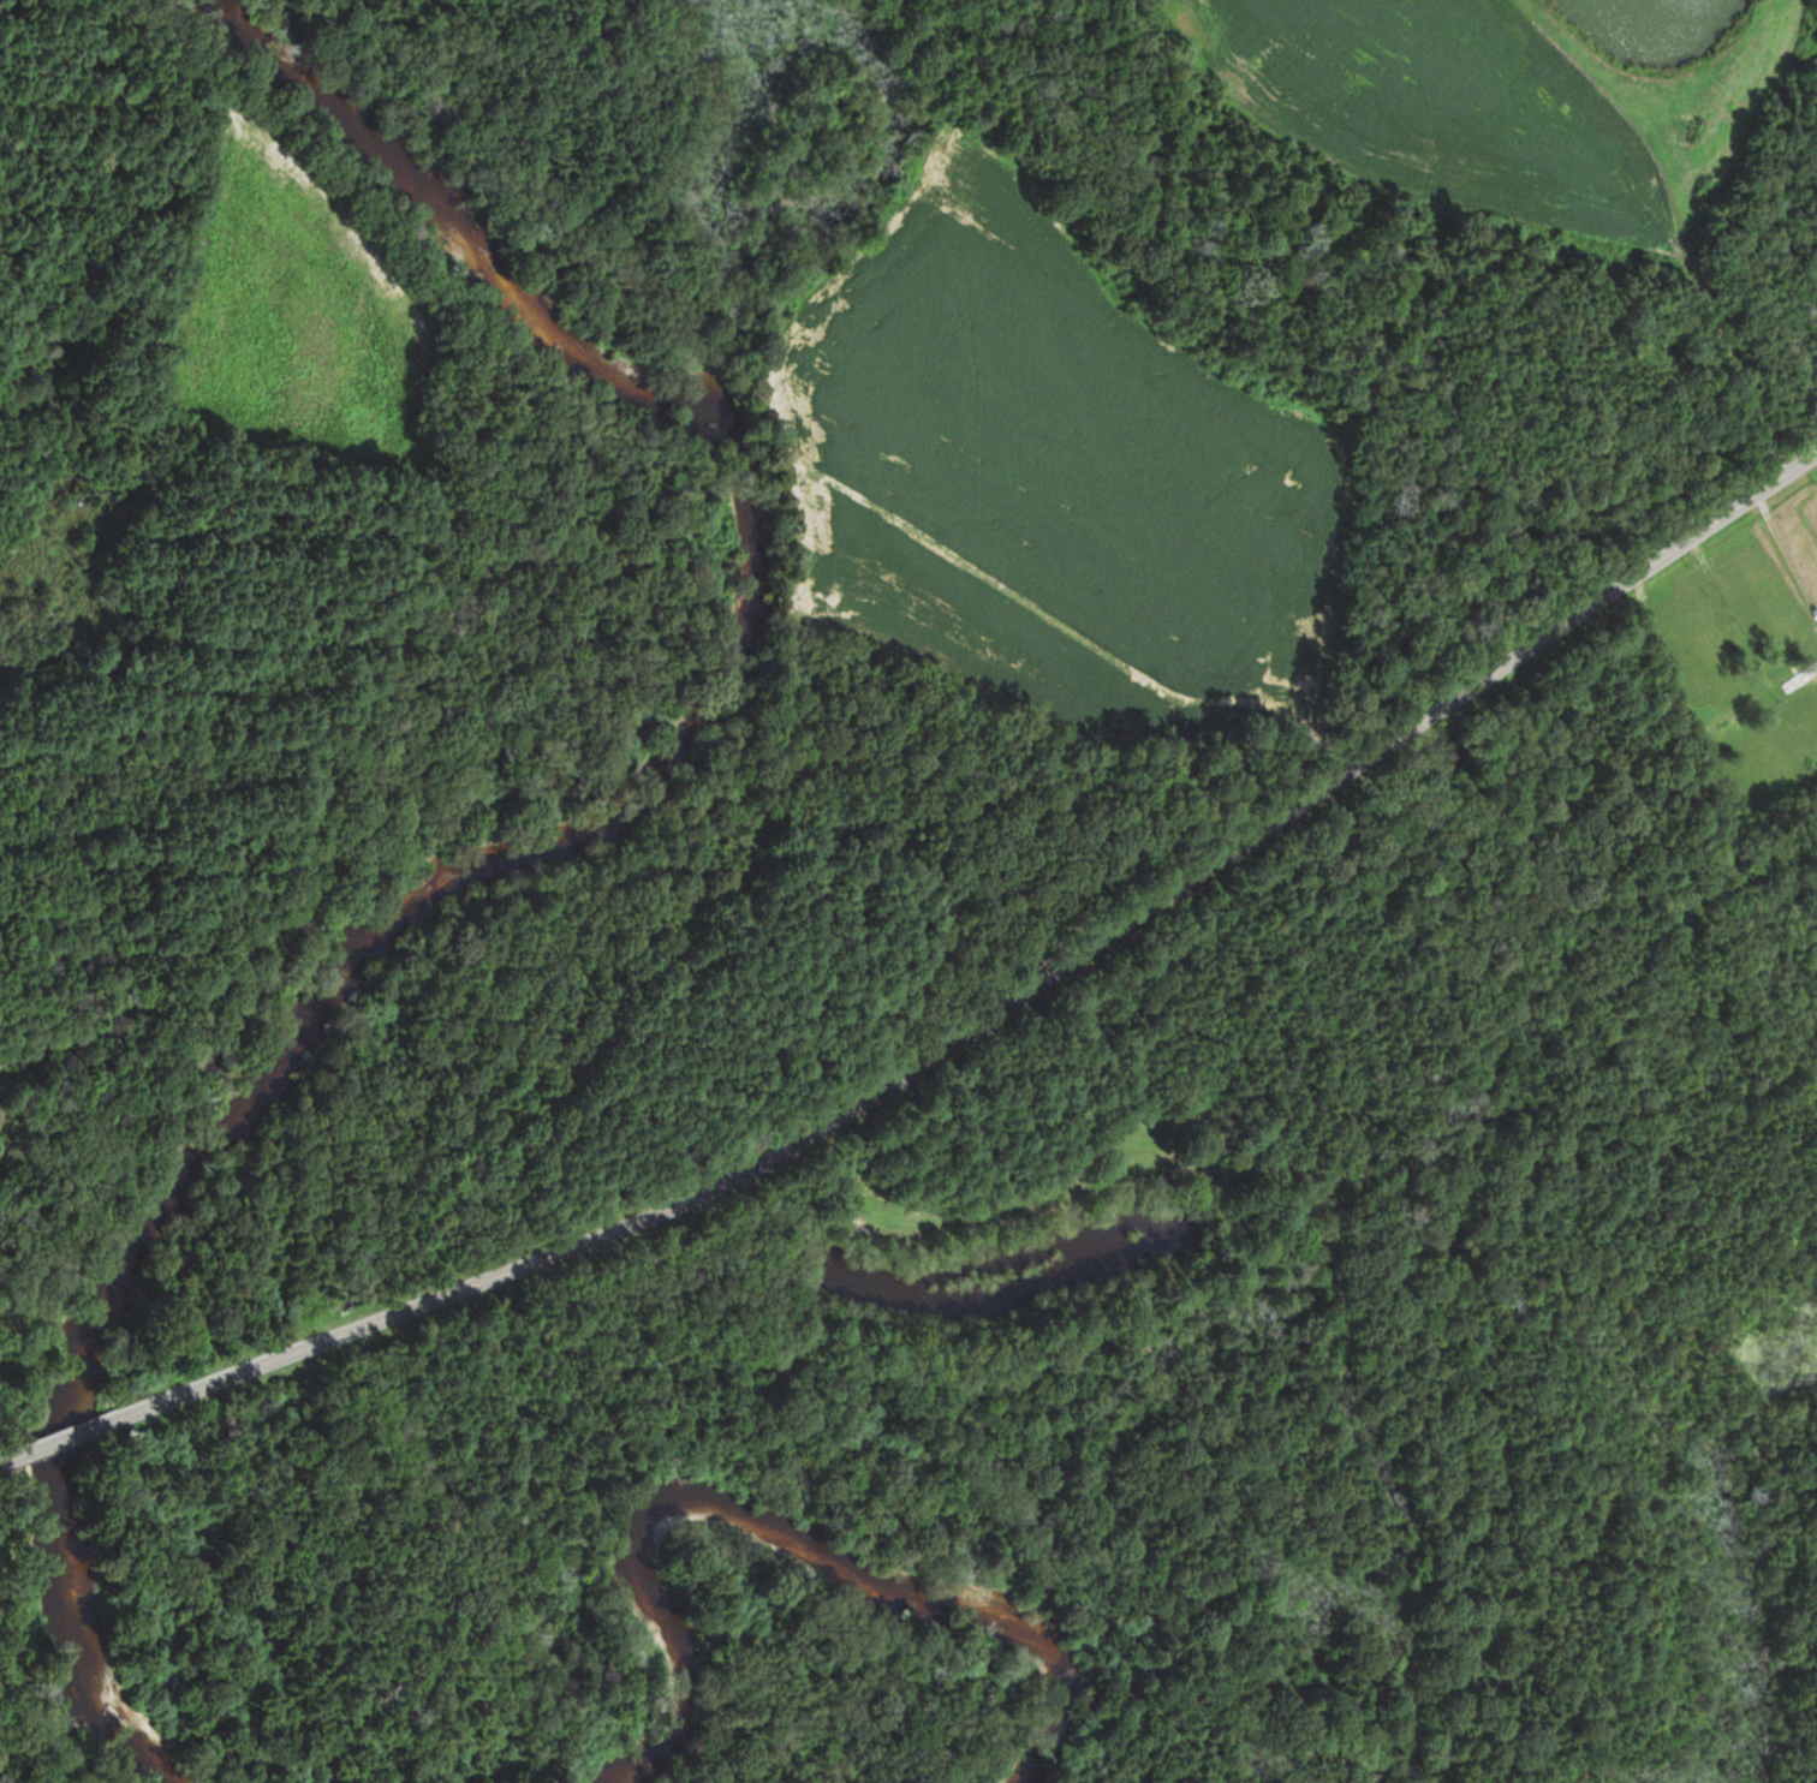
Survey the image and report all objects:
building: (1799, 675)
building: (1729, 717)
river: (526, 849)
road: (1005, 1006)
road: (61, 1439)
road: (0, 1463)
river: (818, 1548)

